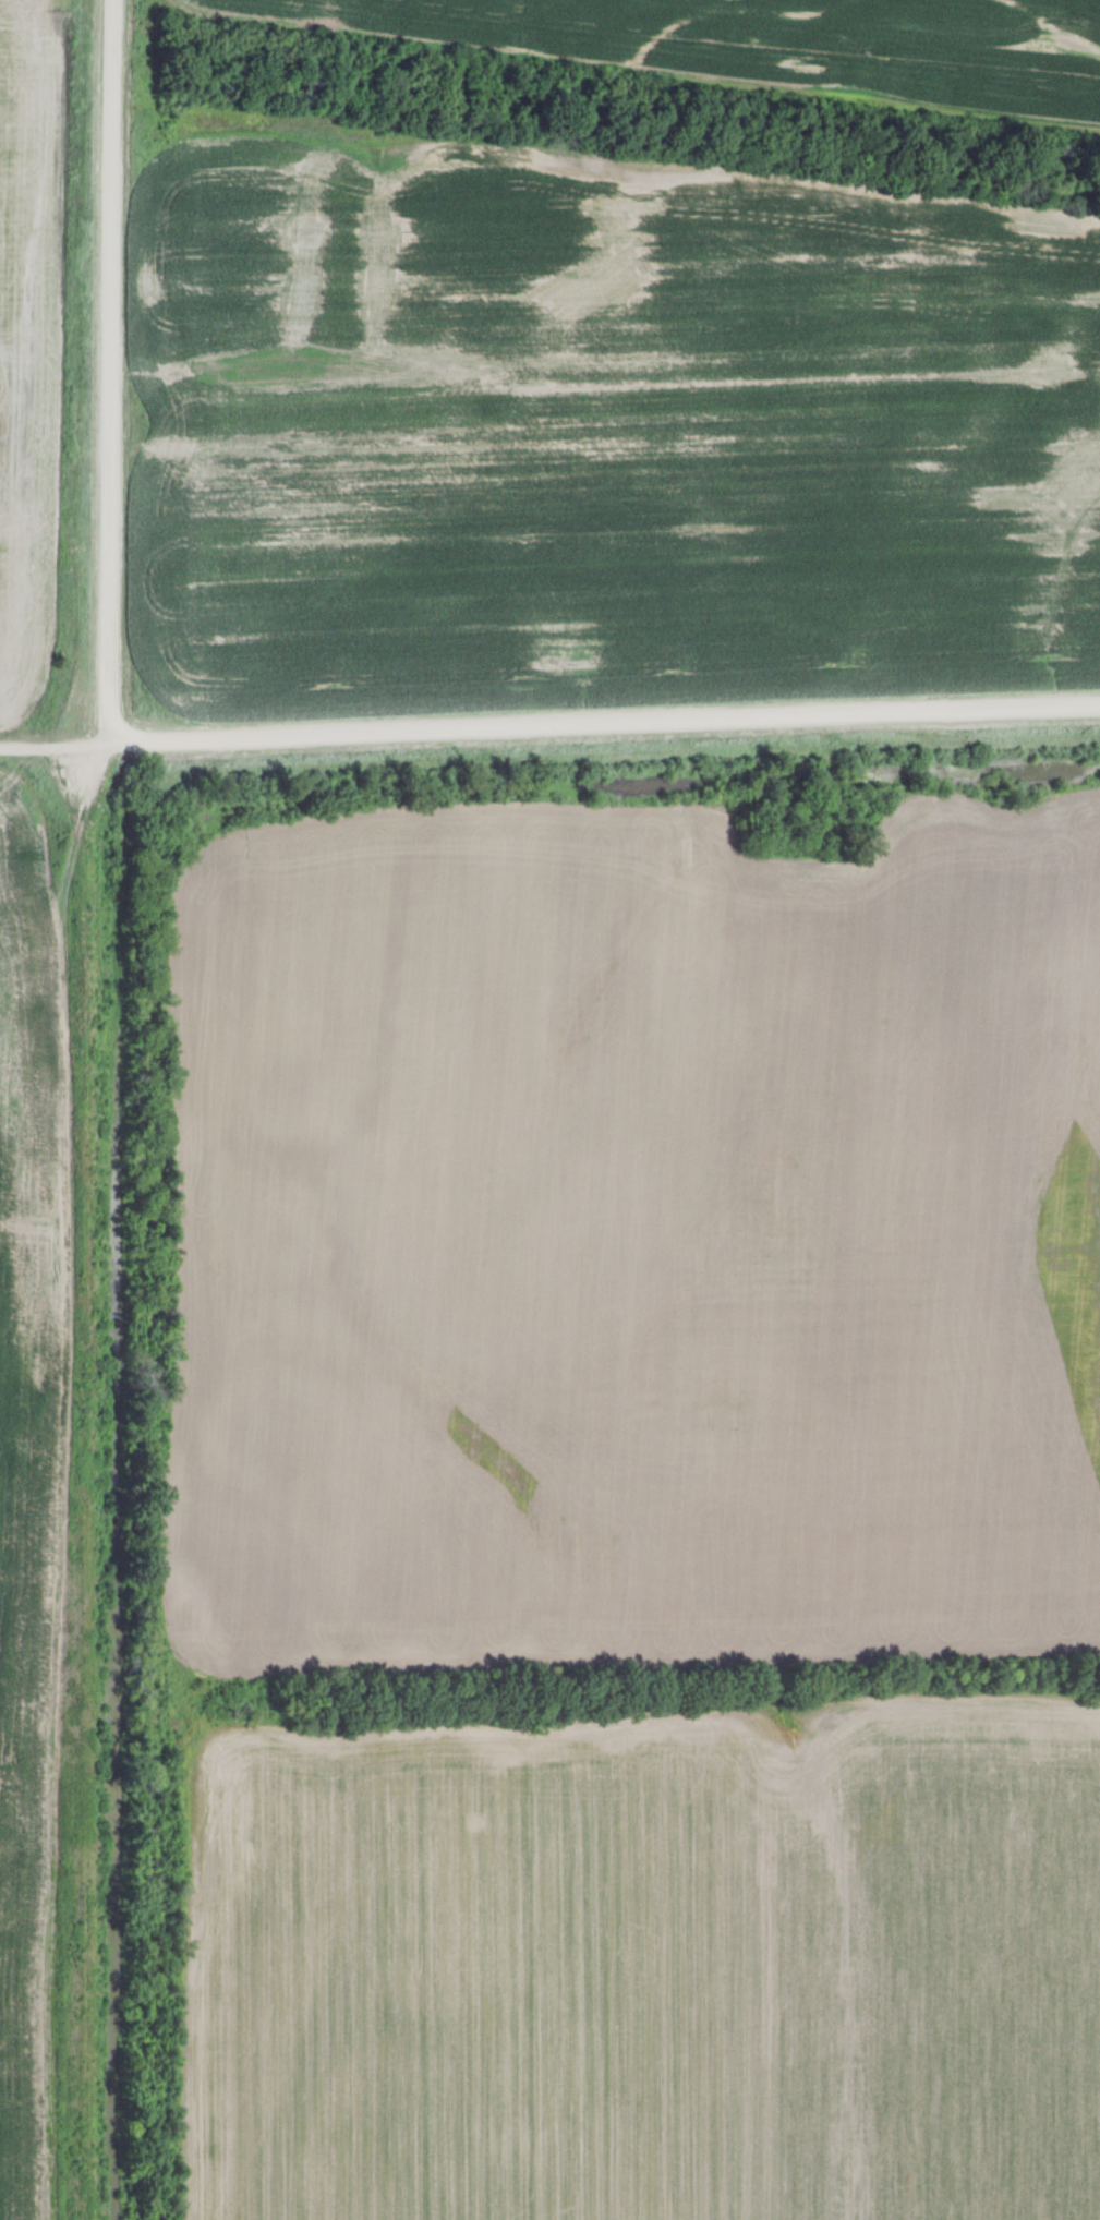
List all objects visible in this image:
crop: (756, 45)
crop: (25, 364)
road: (111, 371)
crop: (601, 436)
road: (549, 725)
crop: (634, 1236)
crop: (34, 1488)
crop: (646, 1962)

